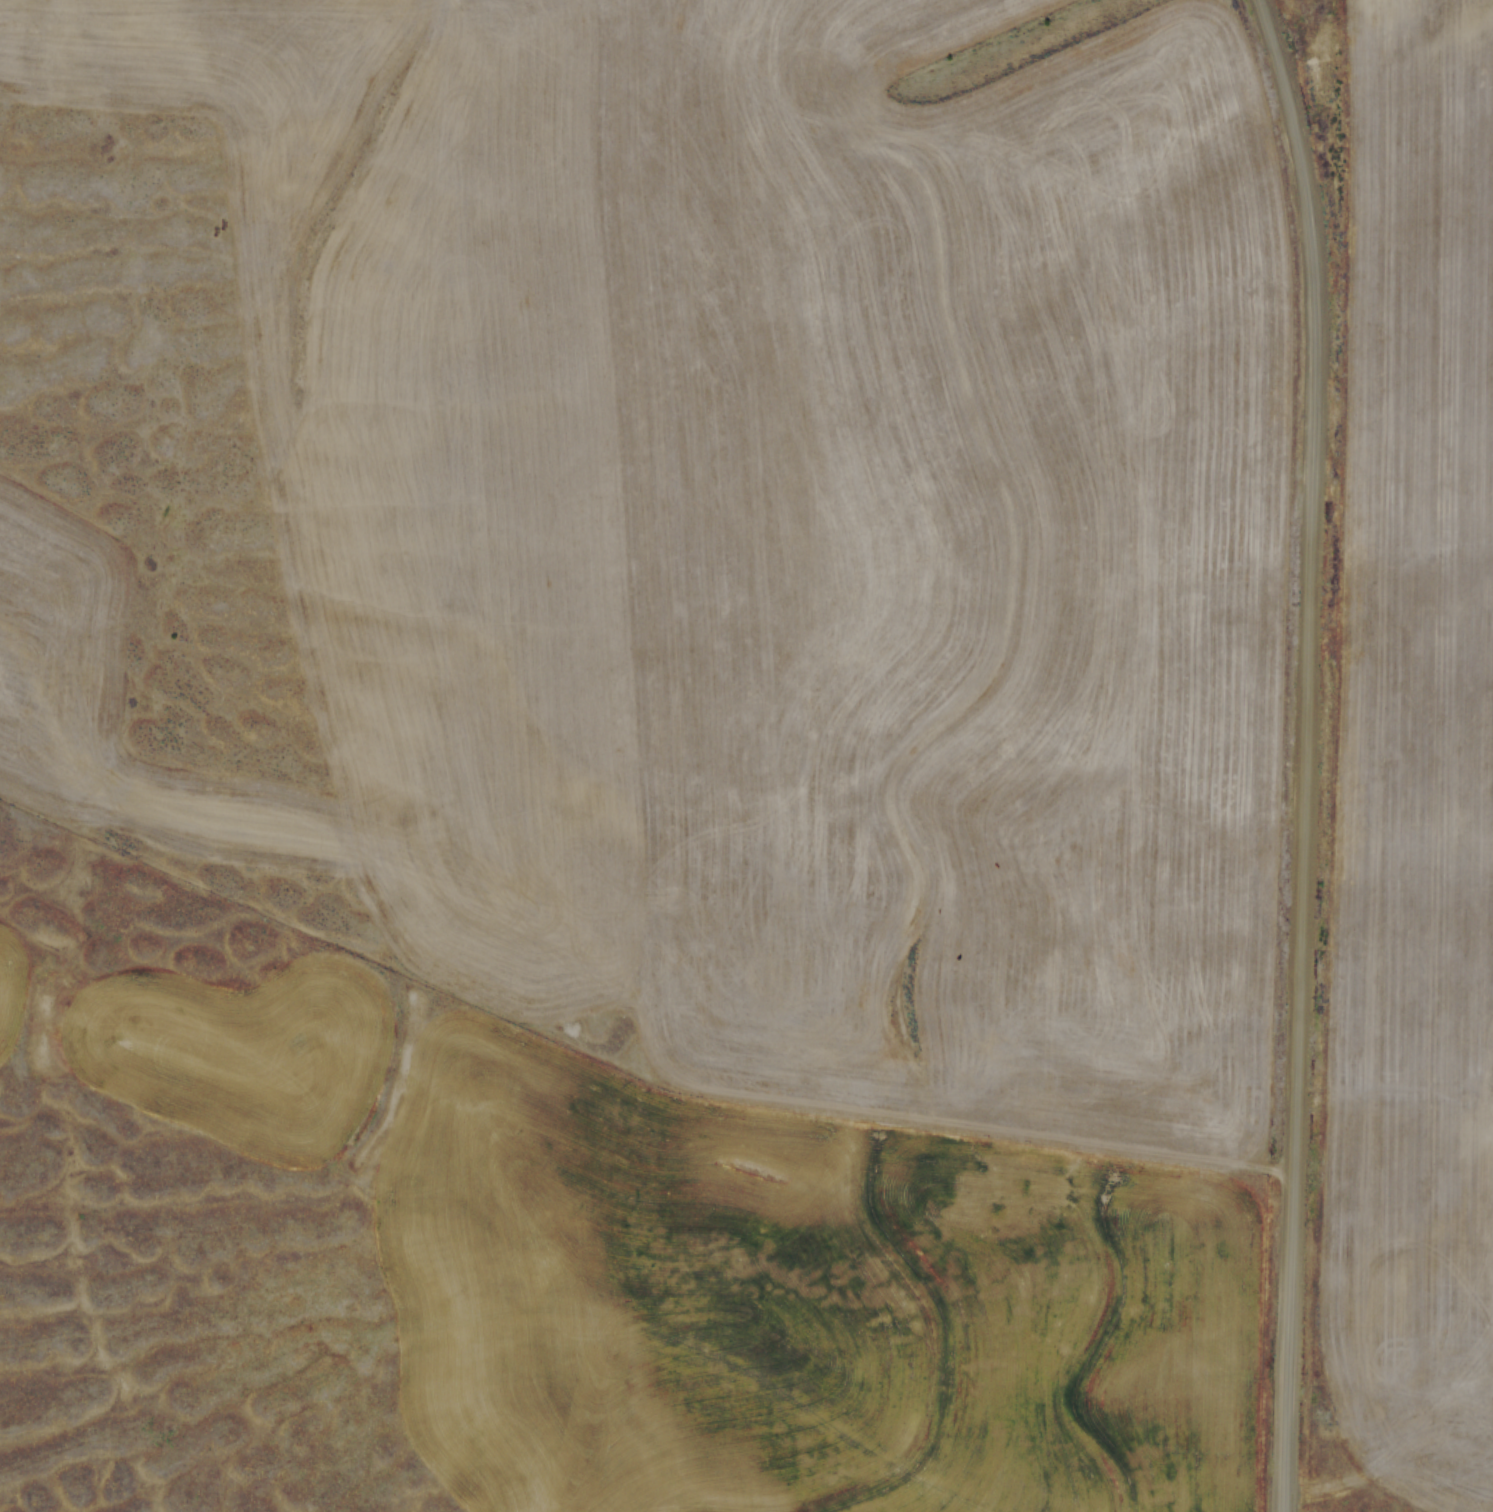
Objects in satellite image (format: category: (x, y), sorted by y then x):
road: (1307, 752)

